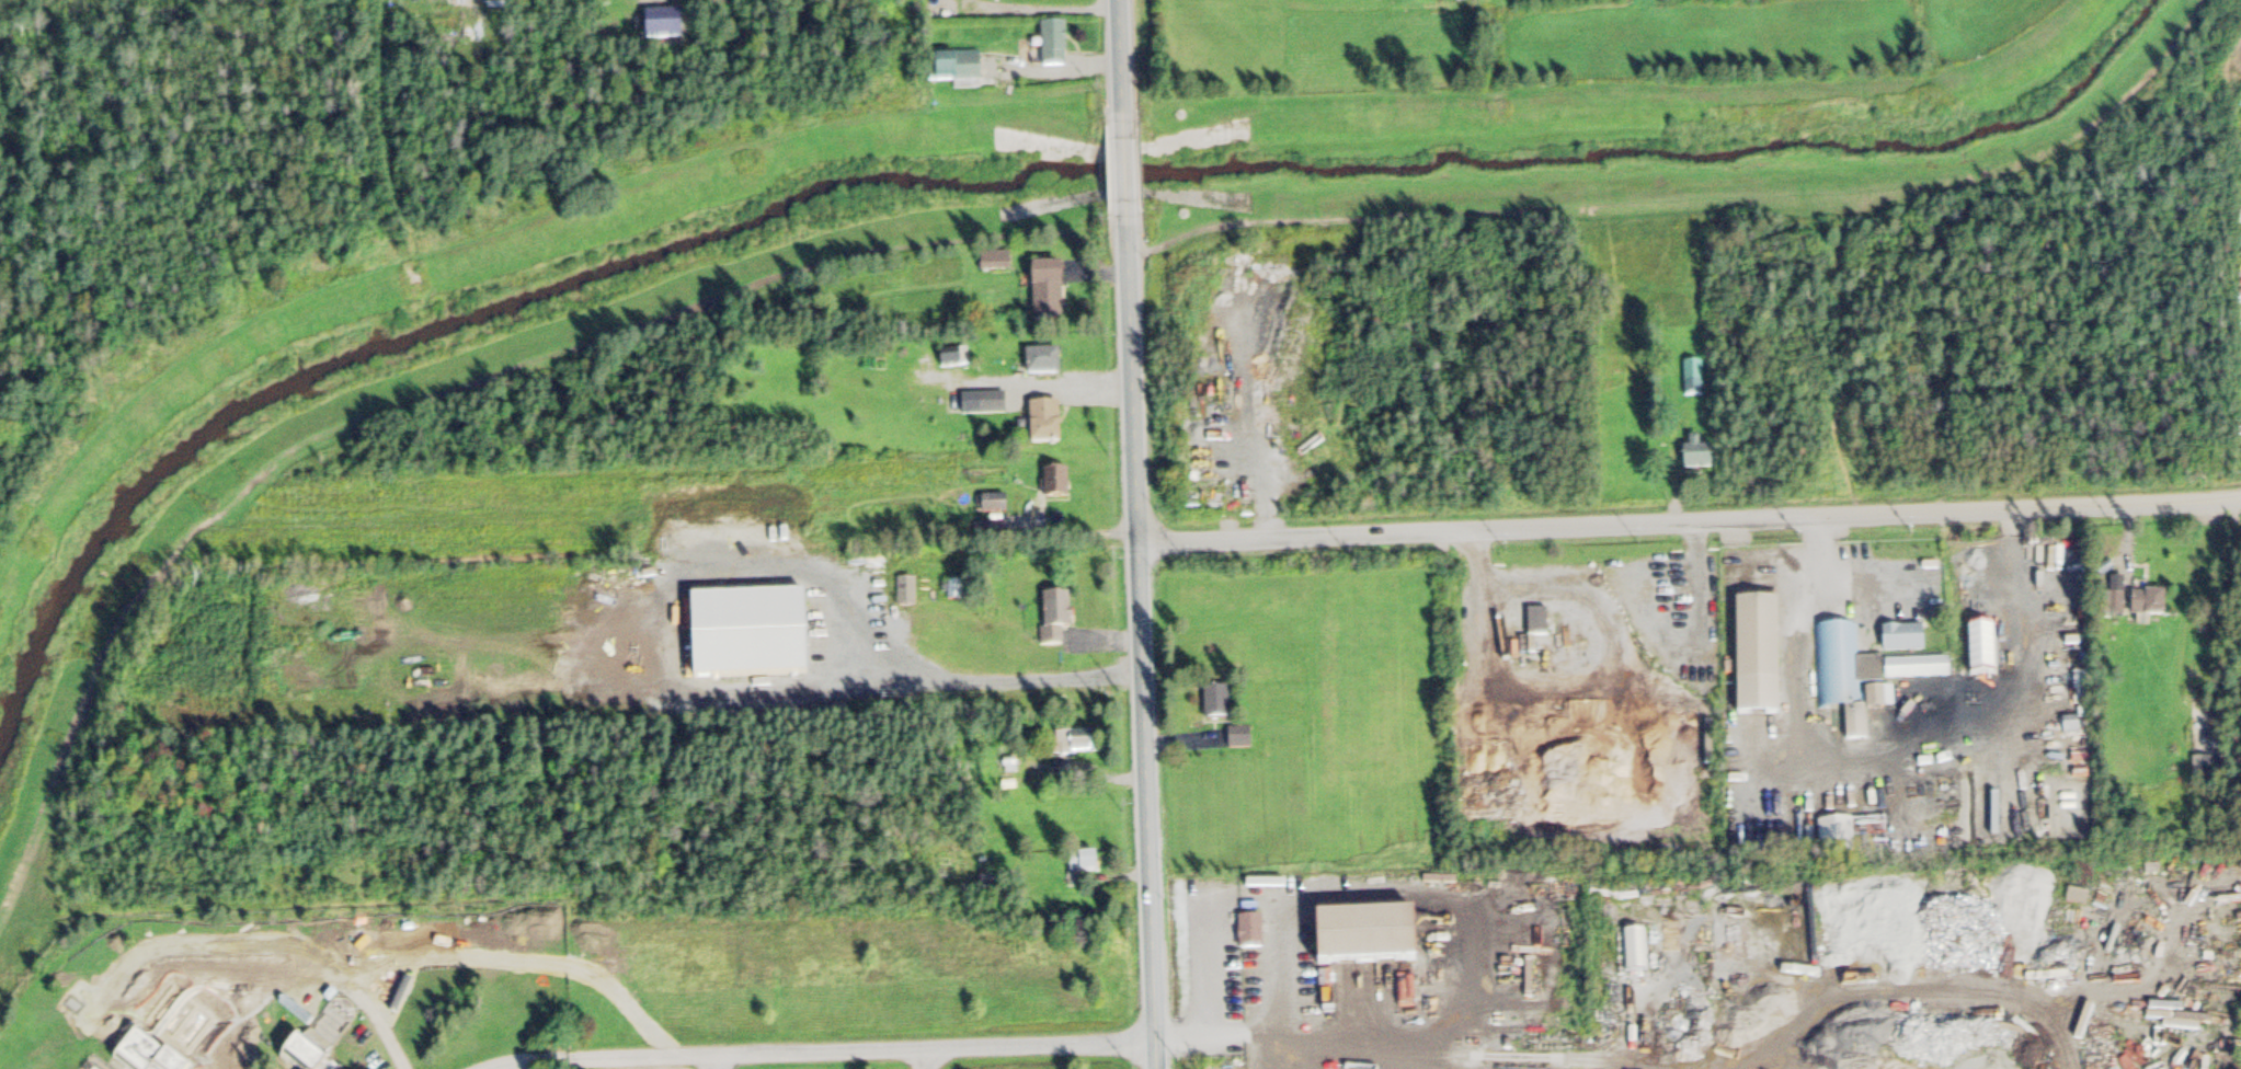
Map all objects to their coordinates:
wastewater plant: (567, 992)

